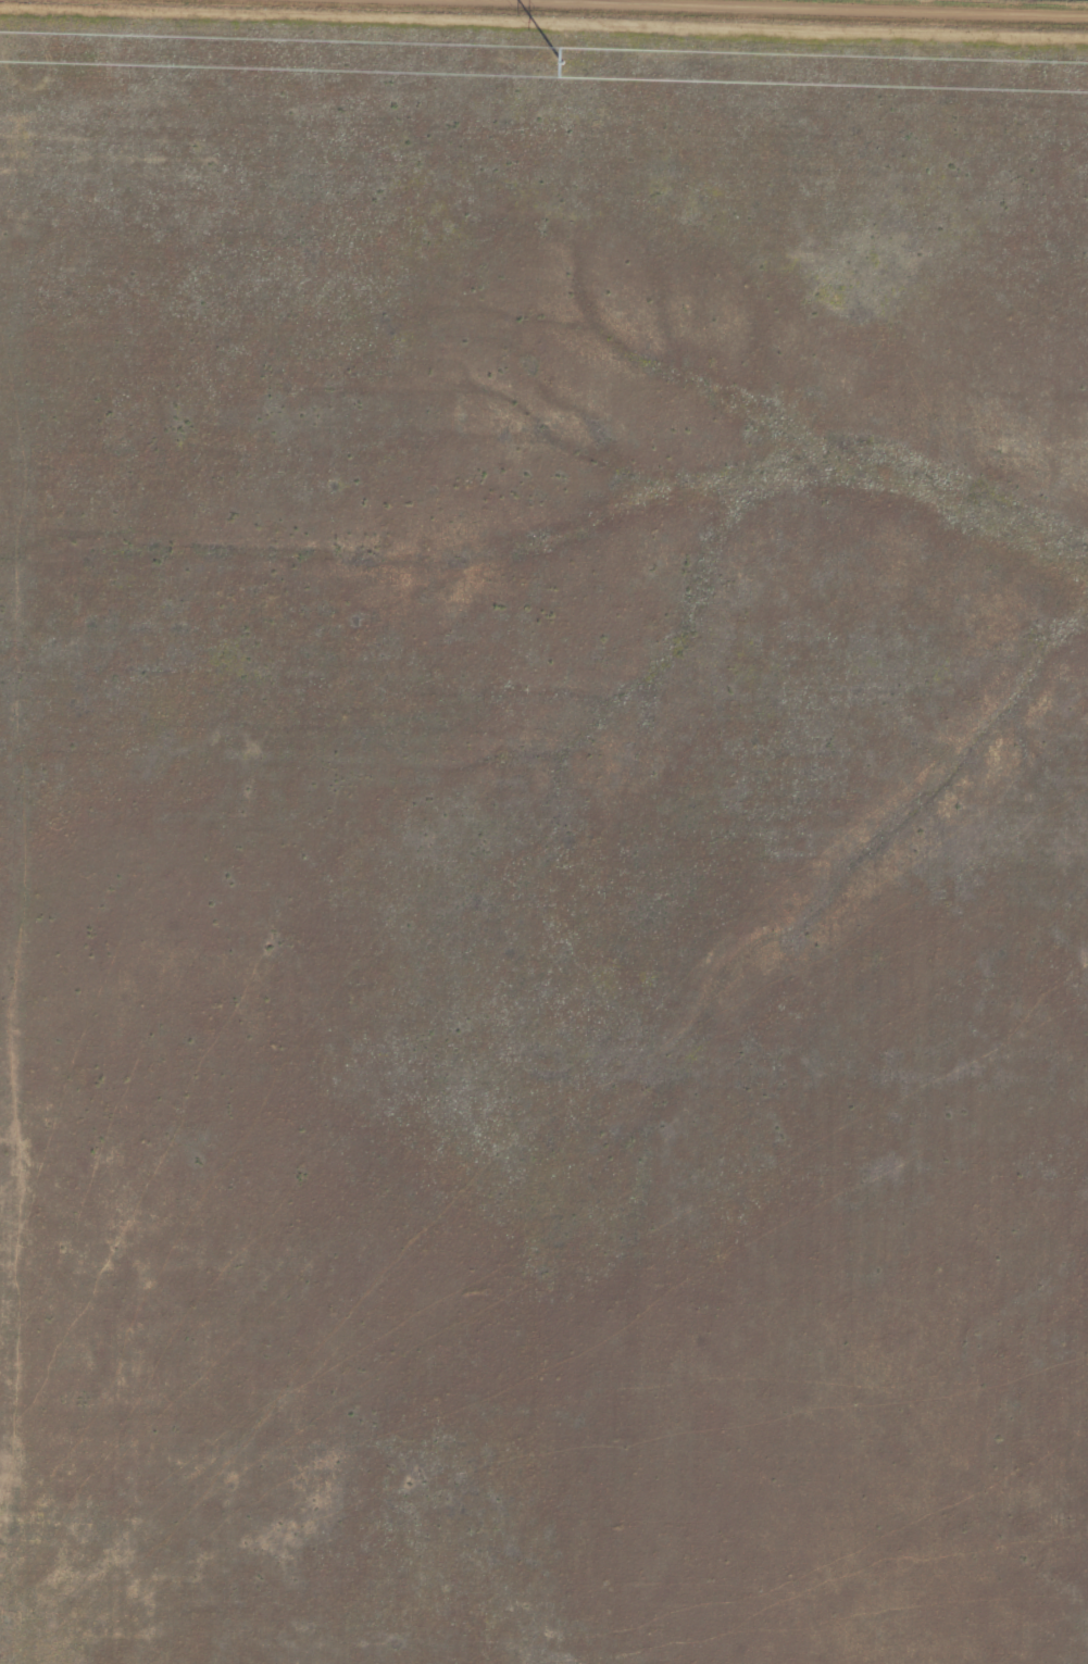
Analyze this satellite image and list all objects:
road: (911, 4)
power tower: (563, 59)

